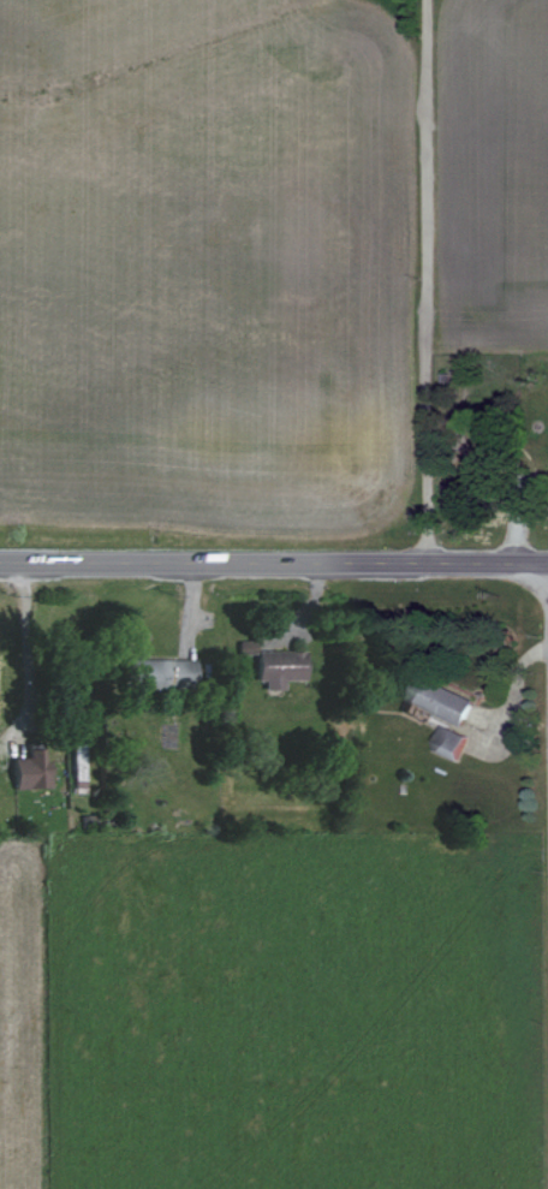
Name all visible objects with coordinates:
road: (429, 285)
road: (274, 569)
road: (24, 655)
building: (278, 667)
building: (155, 672)
building: (435, 701)
building: (446, 743)
building: (26, 769)

